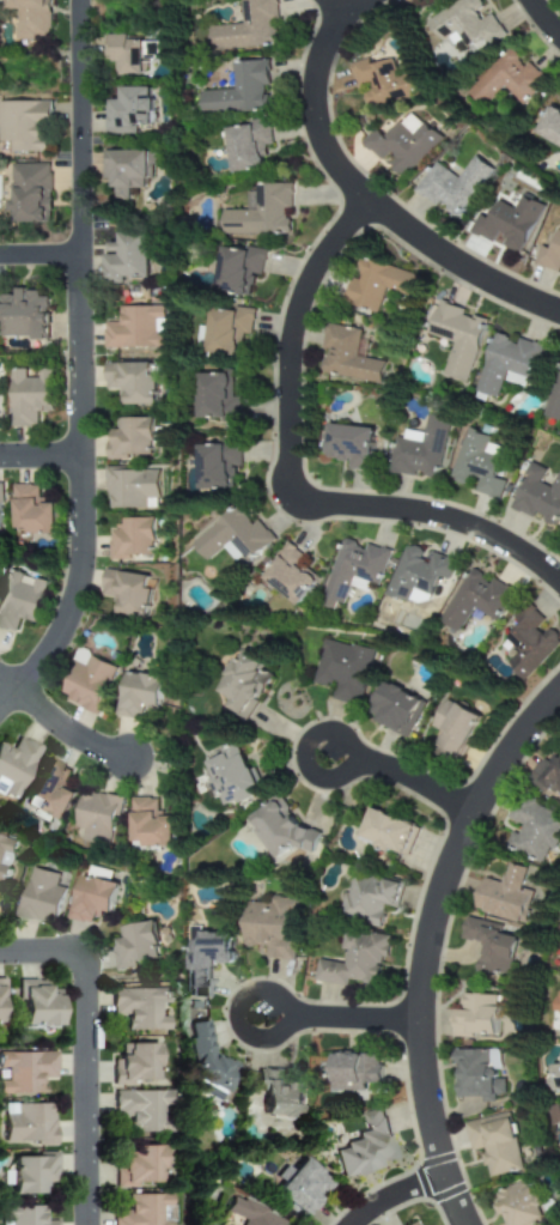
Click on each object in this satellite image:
road: (333, 8)
building: (28, 18)
road: (542, 22)
building: (246, 26)
building: (461, 28)
building: (123, 54)
building: (505, 81)
building: (381, 84)
building: (238, 91)
building: (127, 111)
building: (23, 127)
building: (549, 127)
building: (244, 145)
building: (397, 147)
building: (124, 171)
building: (449, 186)
building: (28, 194)
road: (364, 198)
building: (258, 213)
building: (507, 225)
building: (549, 251)
road: (39, 255)
building: (124, 257)
building: (235, 271)
building: (376, 285)
building: (23, 315)
building: (133, 329)
building: (224, 330)
building: (455, 338)
building: (347, 358)
building: (505, 364)
road: (81, 365)
building: (129, 383)
building: (26, 396)
building: (214, 400)
building: (553, 400)
road: (348, 416)
building: (128, 438)
building: (351, 445)
building: (420, 449)
road: (42, 460)
building: (213, 462)
building: (477, 465)
road: (346, 471)
road: (292, 479)
building: (129, 490)
road: (358, 490)
building: (537, 496)
building: (28, 513)
building: (0, 514)
building: (232, 536)
building: (129, 540)
building: (352, 570)
building: (415, 574)
building: (287, 575)
building: (124, 593)
building: (17, 600)
building: (473, 601)
building: (529, 643)
building: (341, 671)
building: (86, 684)
building: (239, 685)
road: (6, 686)
building: (136, 696)
building: (391, 709)
road: (66, 729)
building: (451, 730)
building: (13, 768)
building: (550, 775)
building: (230, 776)
road: (407, 778)
building: (47, 793)
building: (96, 819)
building: (146, 826)
building: (534, 830)
building: (278, 832)
building: (385, 833)
building: (4, 856)
building: (98, 873)
building: (37, 896)
building: (501, 896)
building: (367, 898)
building: (89, 902)
building: (267, 928)
building: (133, 946)
road: (432, 946)
building: (489, 946)
building: (202, 960)
building: (353, 963)
building: (0, 1003)
building: (35, 1007)
building: (139, 1008)
building: (556, 1012)
building: (473, 1017)
road: (346, 1020)
road: (84, 1049)
building: (205, 1060)
building: (132, 1065)
building: (24, 1072)
building: (555, 1072)
building: (353, 1073)
building: (475, 1075)
building: (280, 1093)
building: (138, 1110)
building: (559, 1115)
building: (26, 1123)
building: (492, 1145)
building: (363, 1147)
building: (135, 1169)
building: (29, 1175)
building: (298, 1189)
road: (394, 1194)
building: (516, 1205)
building: (141, 1211)
building: (249, 1214)
building: (20, 1217)
building: (414, 1223)

